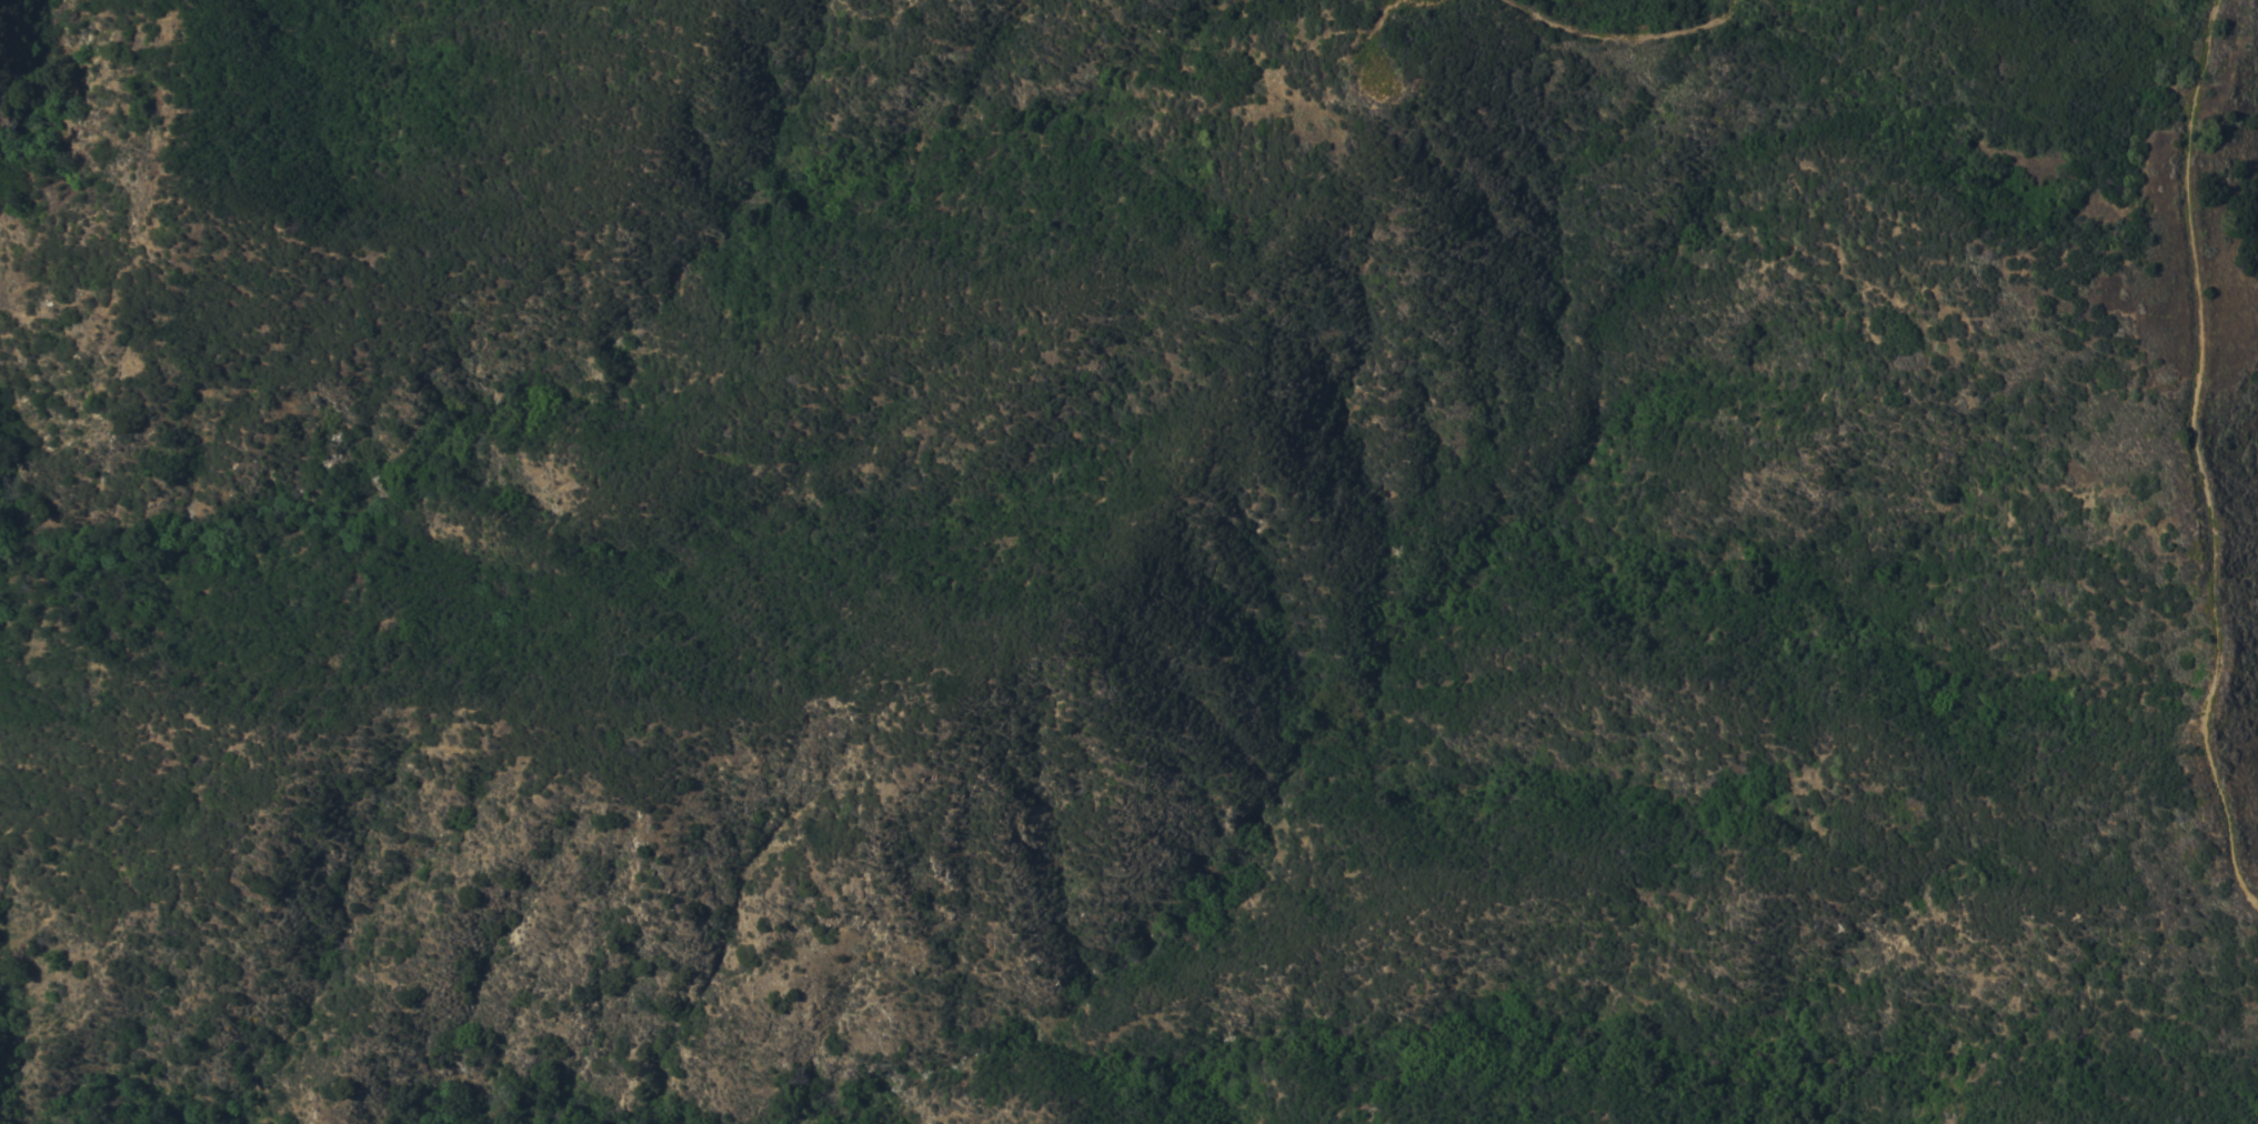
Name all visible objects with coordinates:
road: (1619, 33)
road: (1374, 39)
road: (2198, 455)

